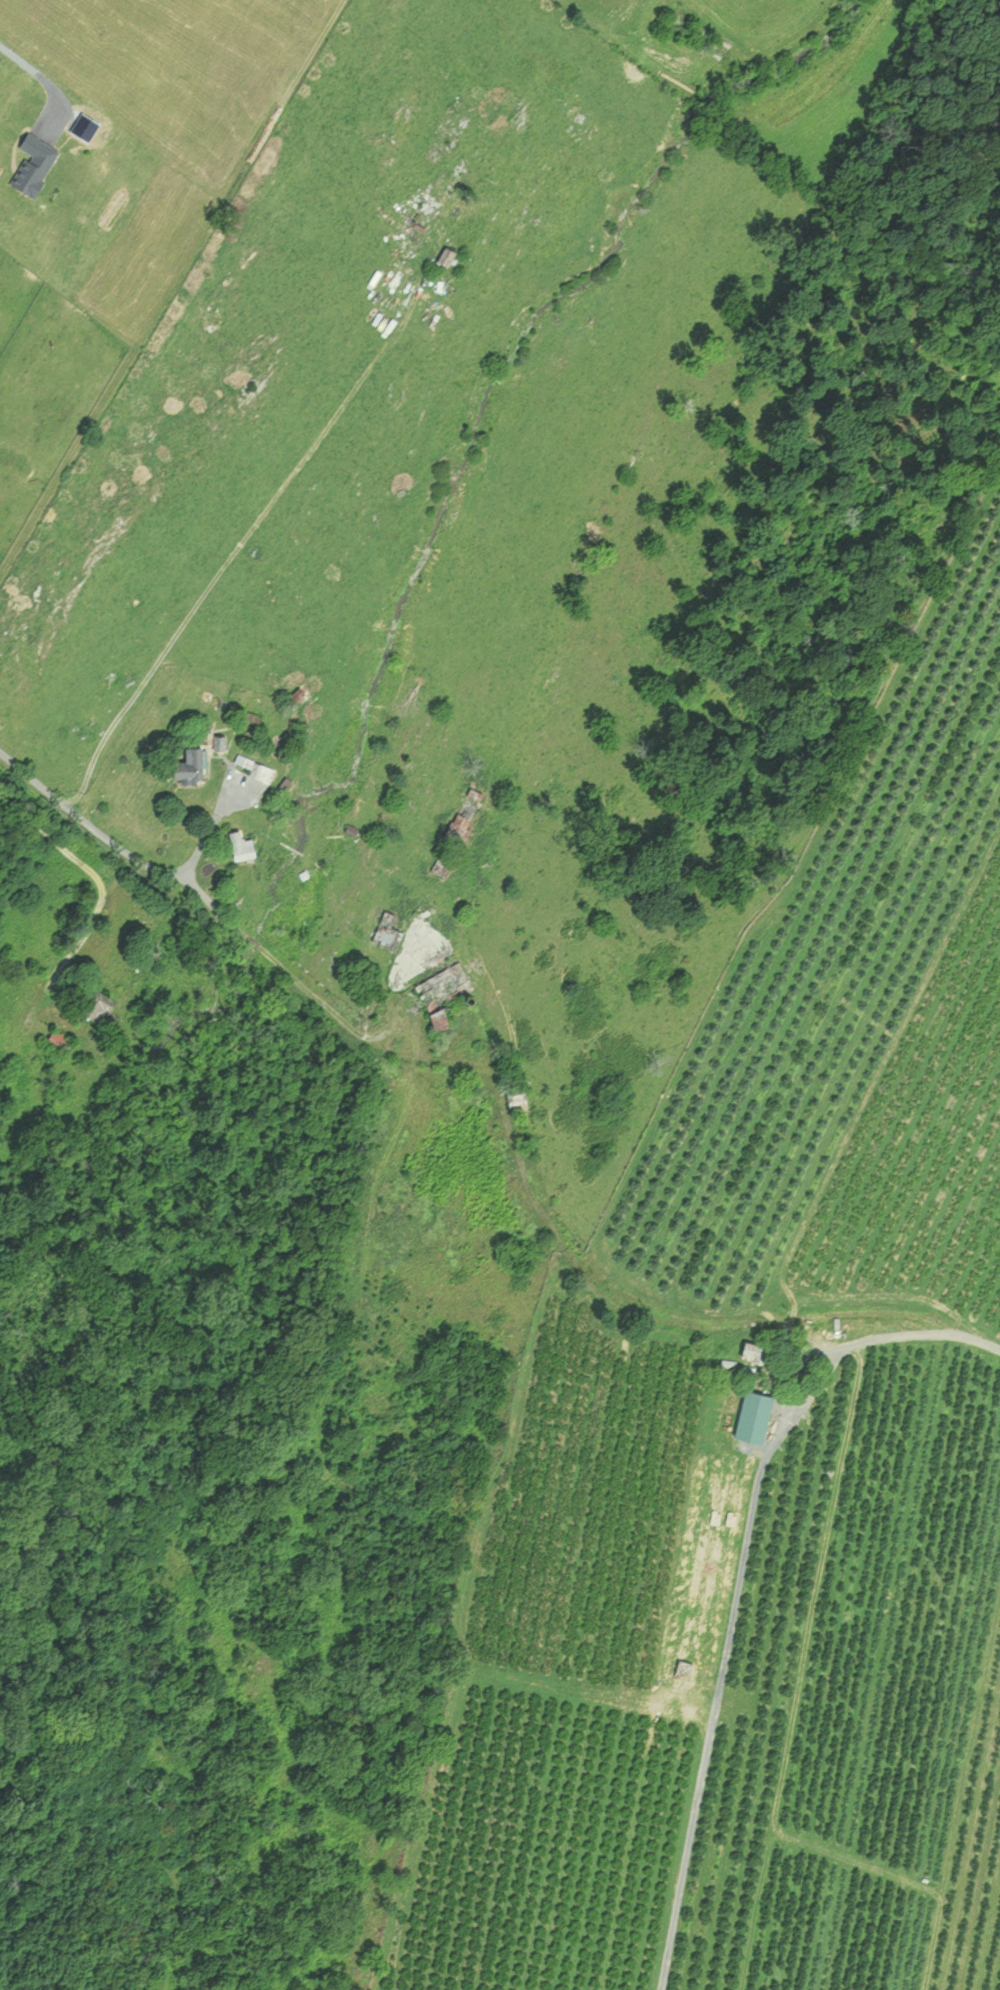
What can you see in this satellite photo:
road: (37, 76)
building: (450, 255)
road: (226, 562)
building: (221, 741)
building: (195, 765)
building: (257, 767)
building: (468, 804)
road: (206, 832)
building: (245, 846)
road: (180, 895)
building: (98, 1003)
building: (58, 1041)
road: (524, 1183)
road: (912, 1329)
building: (755, 1352)
road: (522, 1370)
building: (768, 1416)

